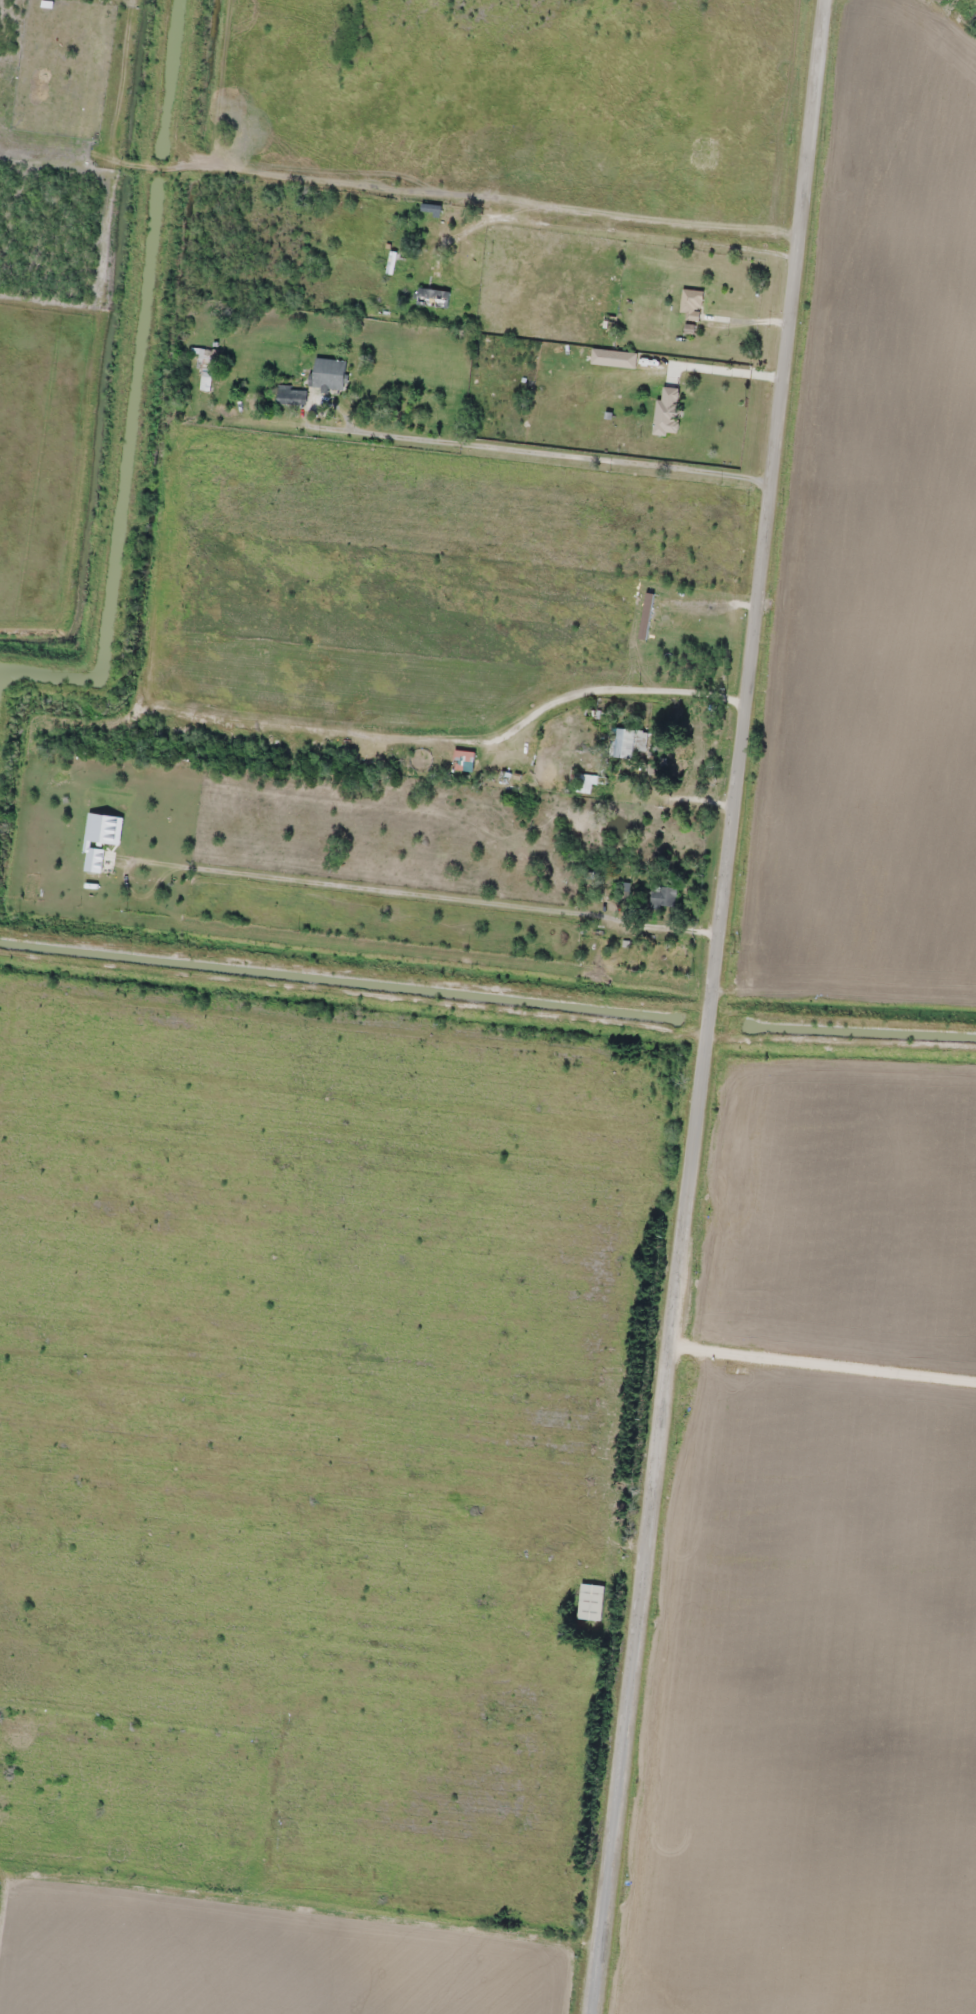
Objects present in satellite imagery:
road: (644, 236)
building: (433, 297)
building: (691, 302)
building: (614, 357)
building: (205, 365)
building: (329, 373)
building: (291, 395)
building: (668, 411)
road: (577, 457)
building: (628, 741)
building: (464, 760)
building: (584, 782)
building: (663, 895)
road: (722, 1007)
road: (321, 1428)
building: (591, 1601)

